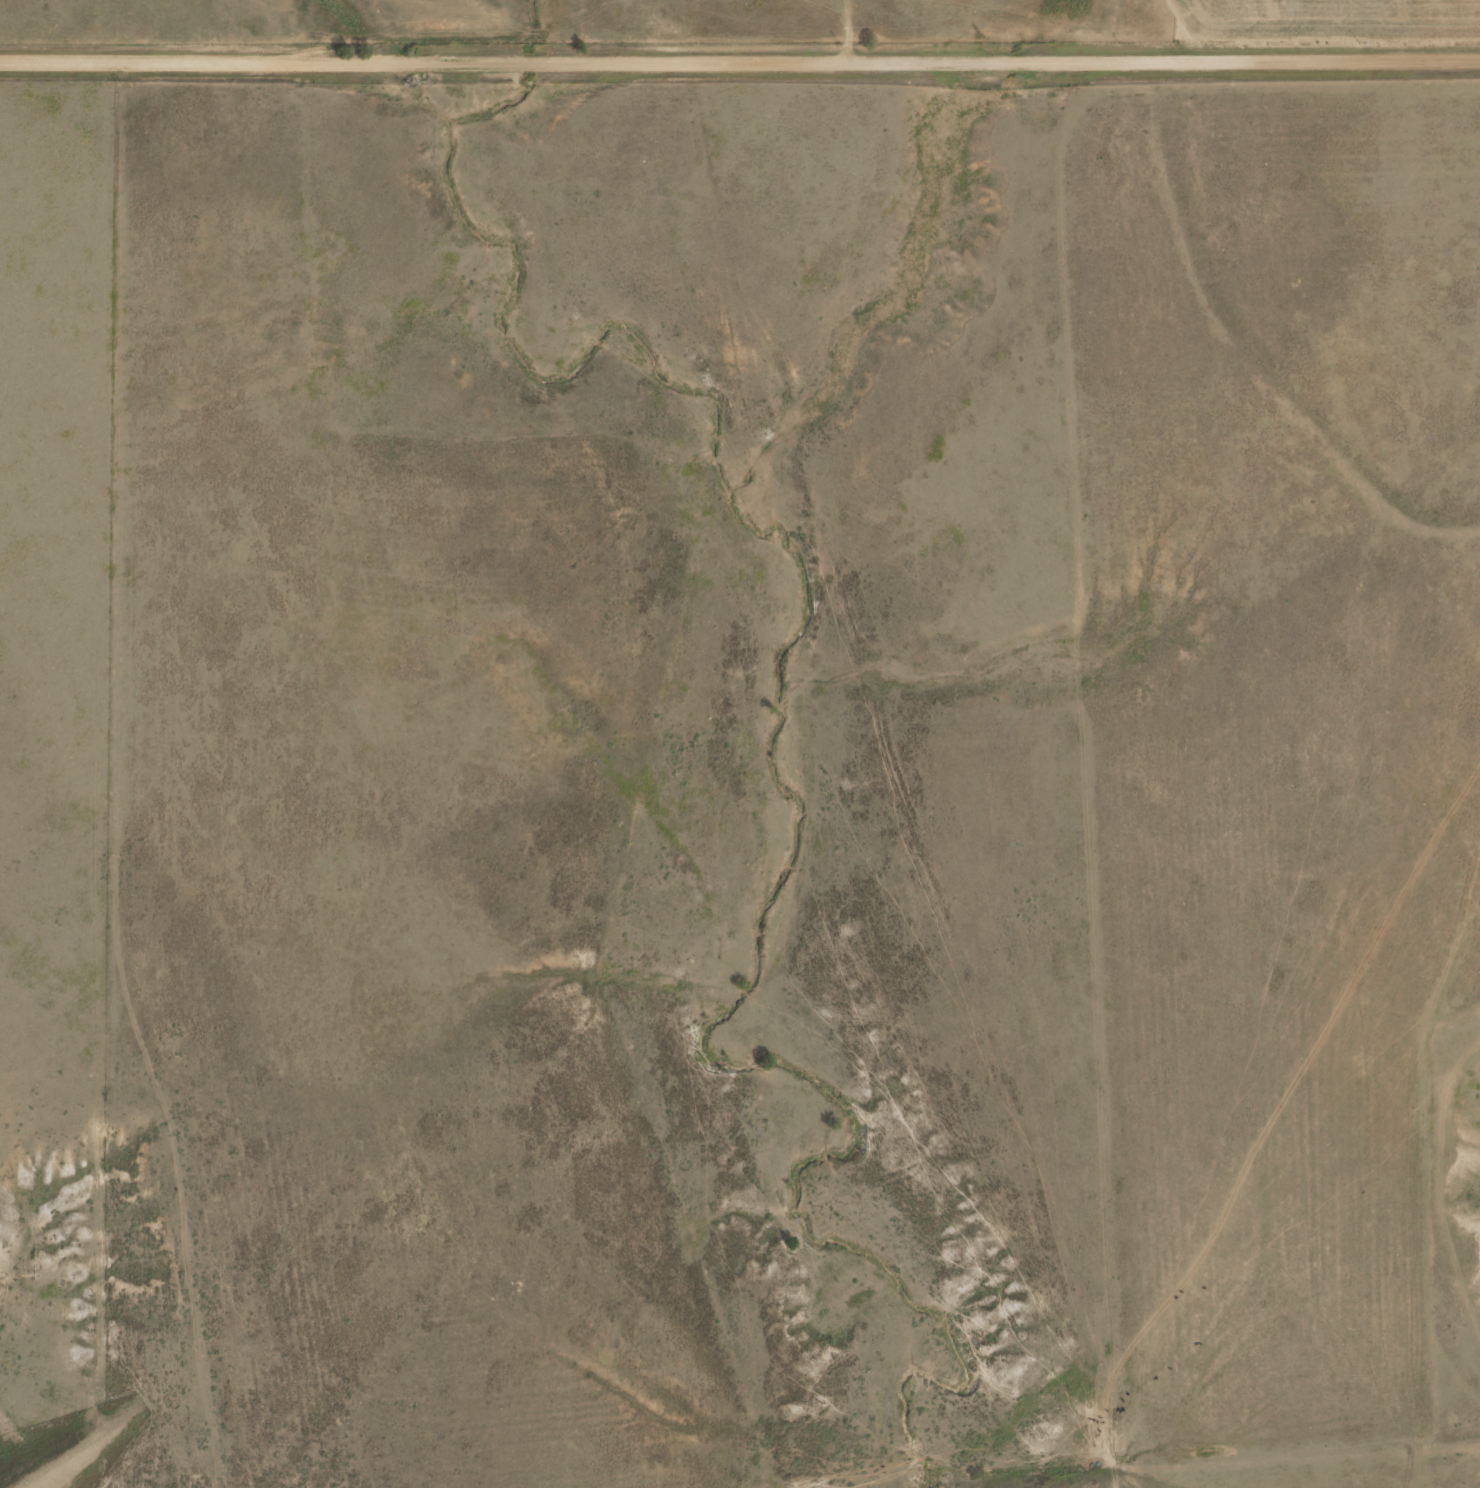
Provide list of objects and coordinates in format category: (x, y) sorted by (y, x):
road: (739, 61)

